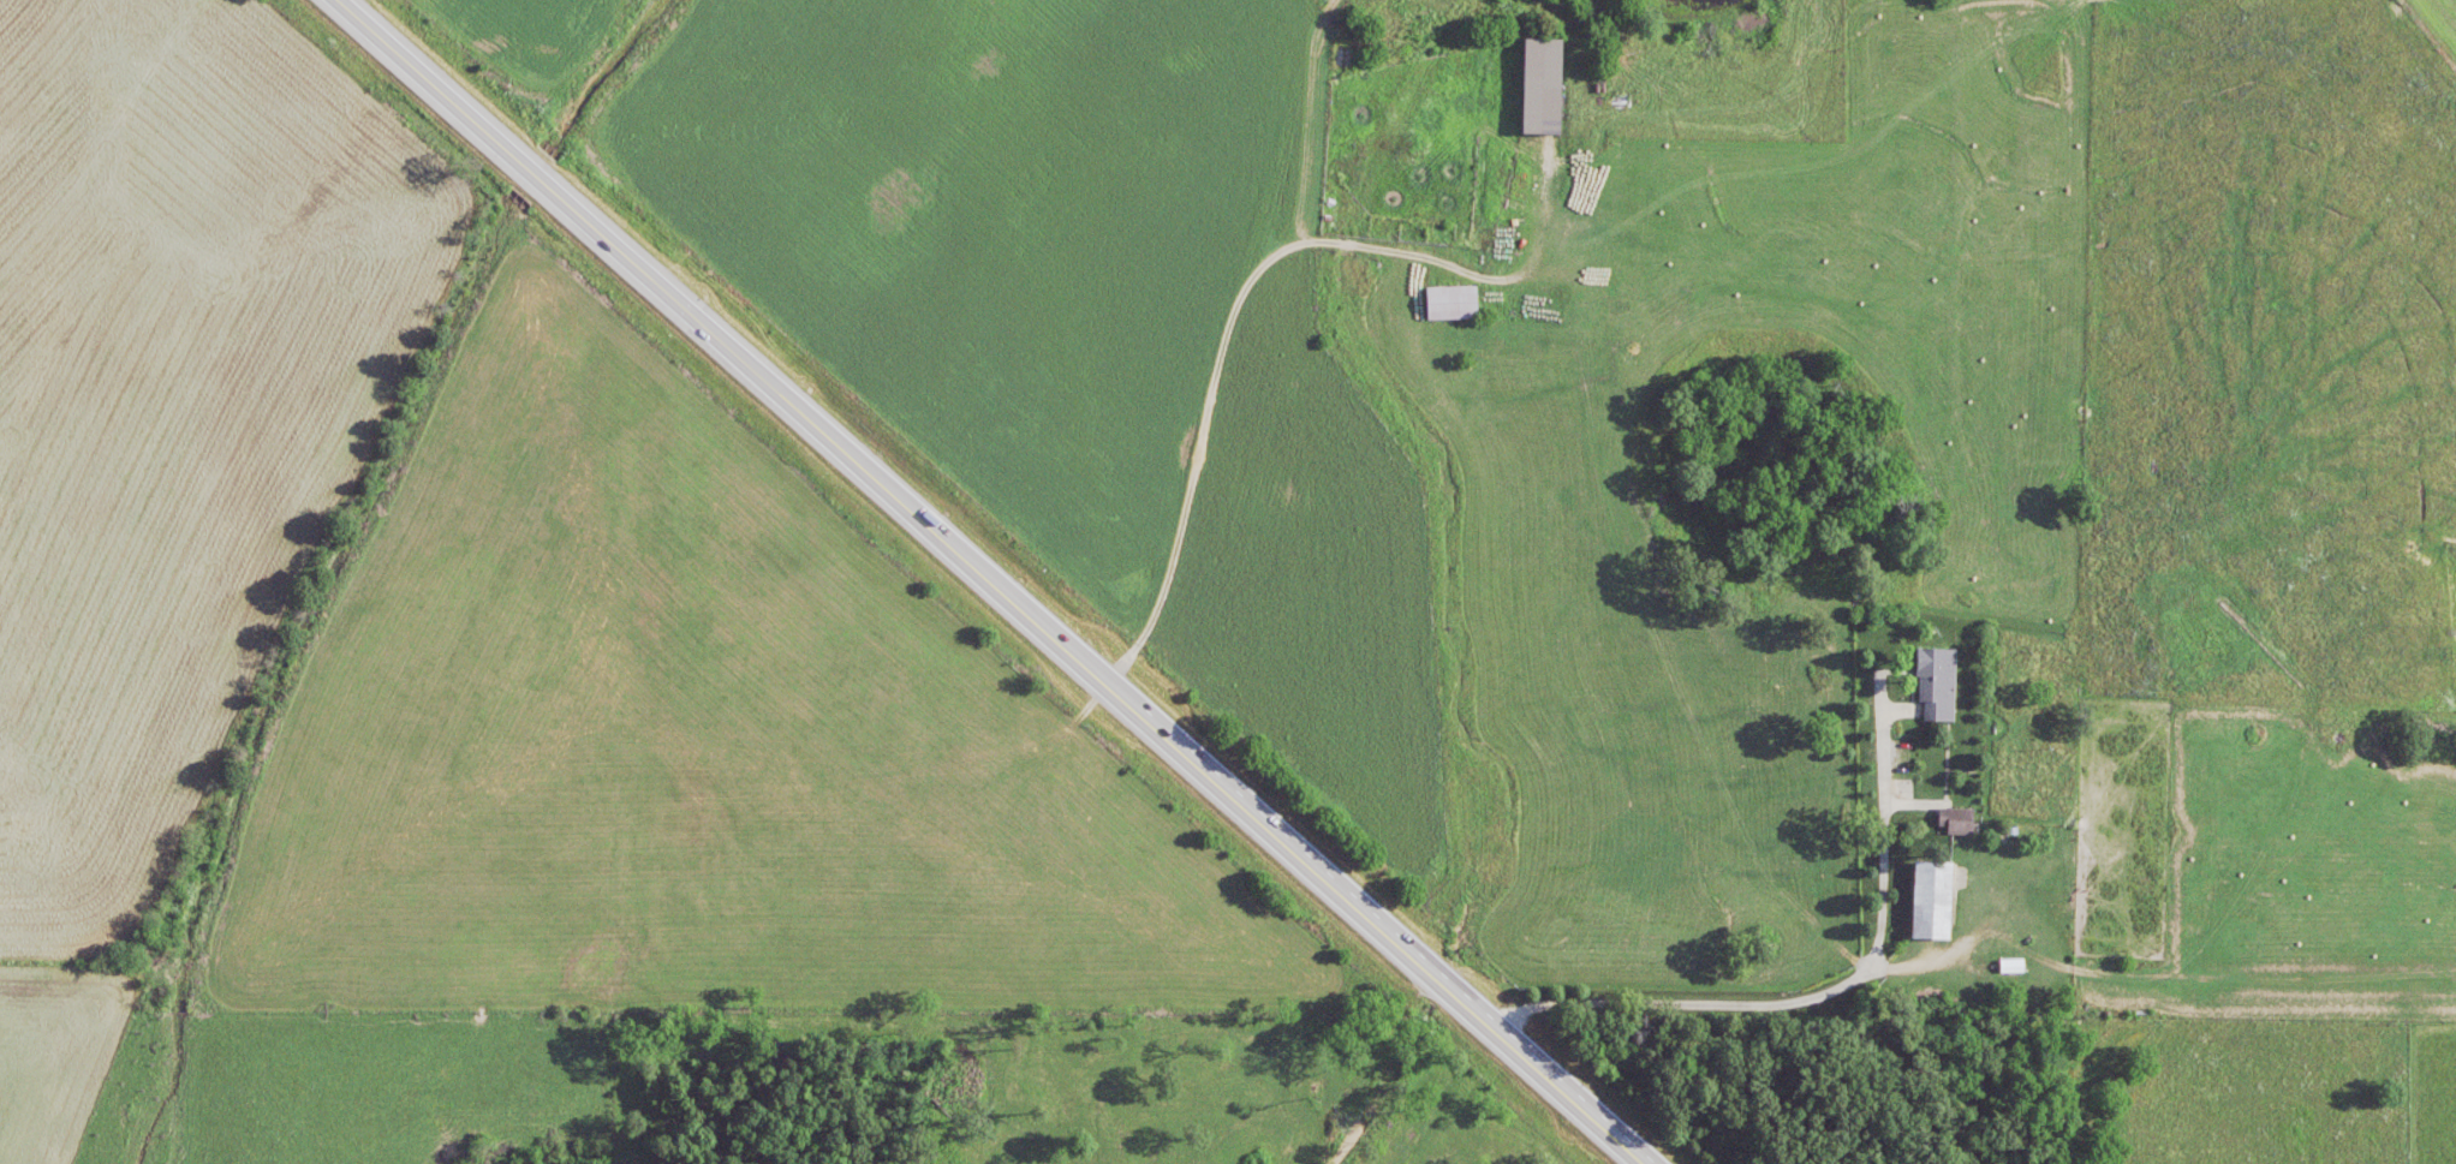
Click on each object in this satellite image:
building: (1542, 91)
building: (1451, 308)
road: (996, 581)
building: (1936, 688)
building: (1932, 903)

